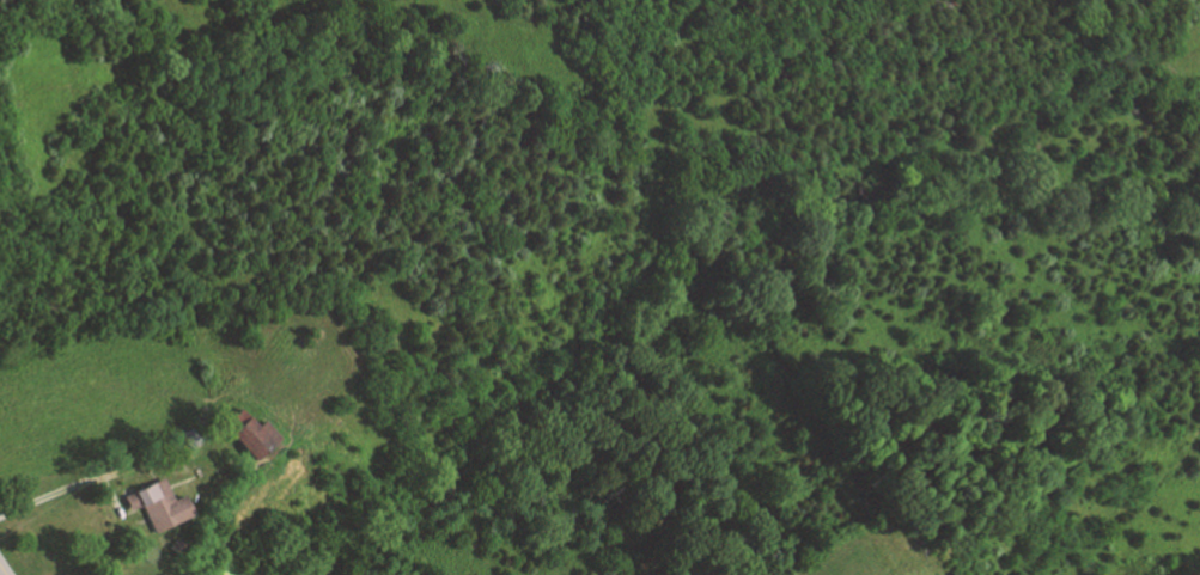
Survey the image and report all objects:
building: (245, 433)
building: (188, 435)
road: (103, 475)
road: (110, 493)
building: (154, 503)
building: (175, 545)
road: (4, 568)

